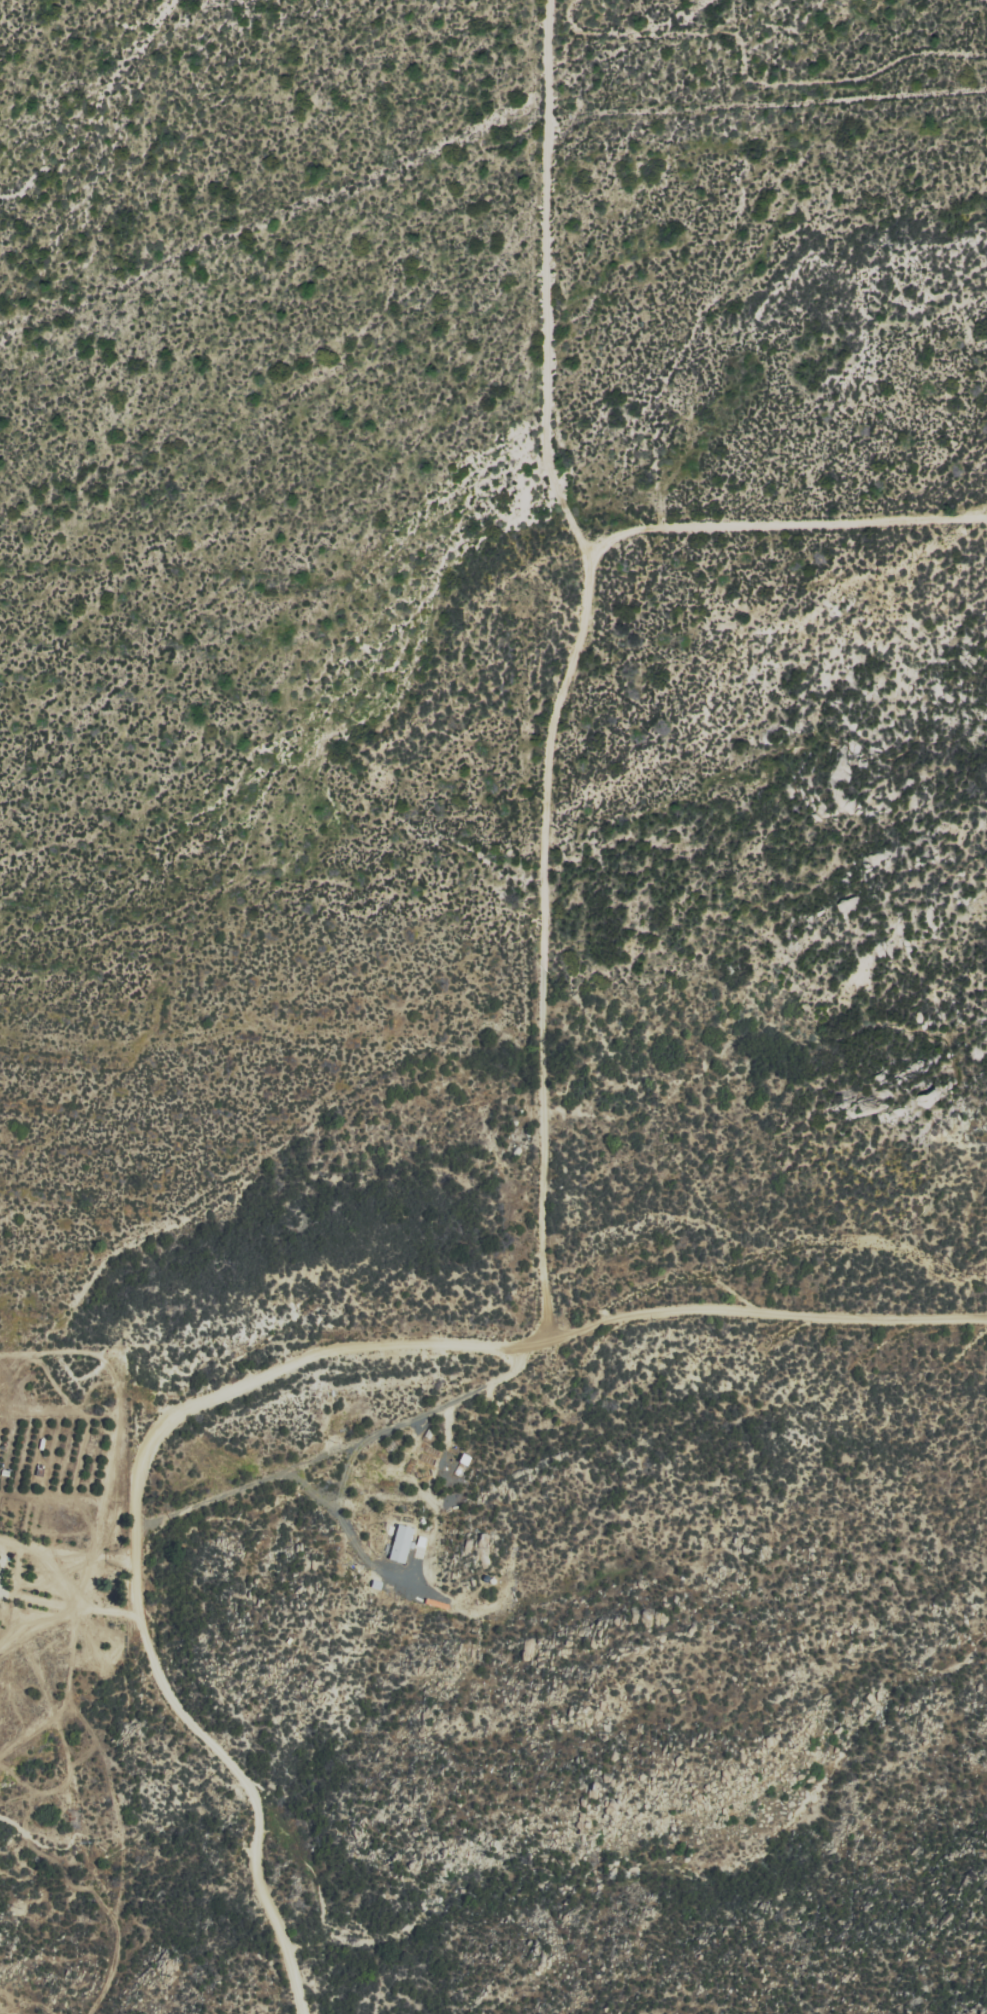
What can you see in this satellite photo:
road: (540, 1010)
building: (400, 1543)
road: (196, 1728)

